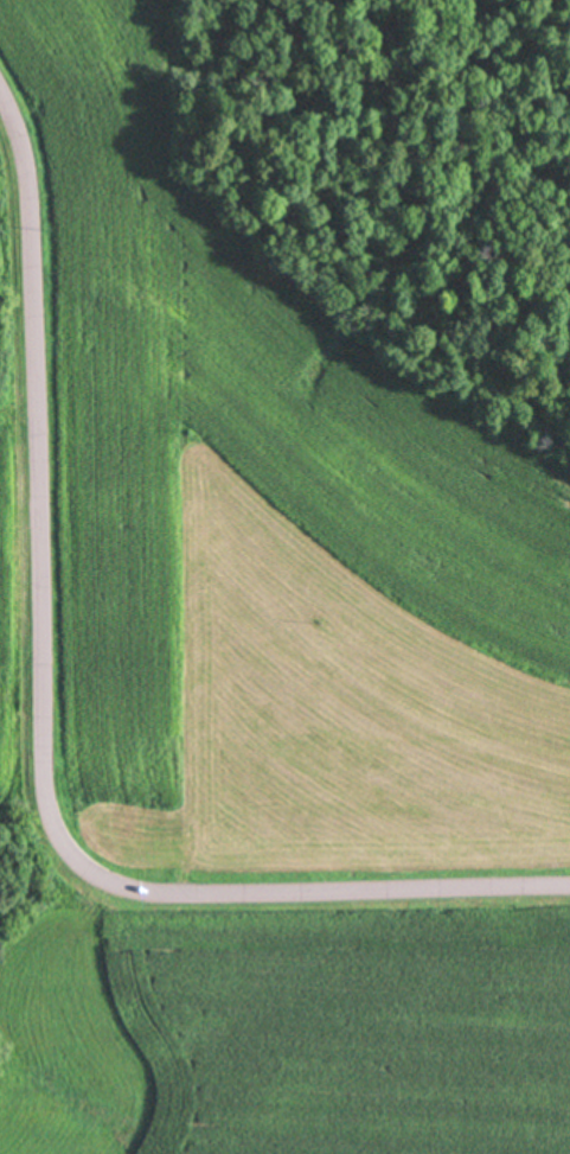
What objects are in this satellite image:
road: (43, 729)

